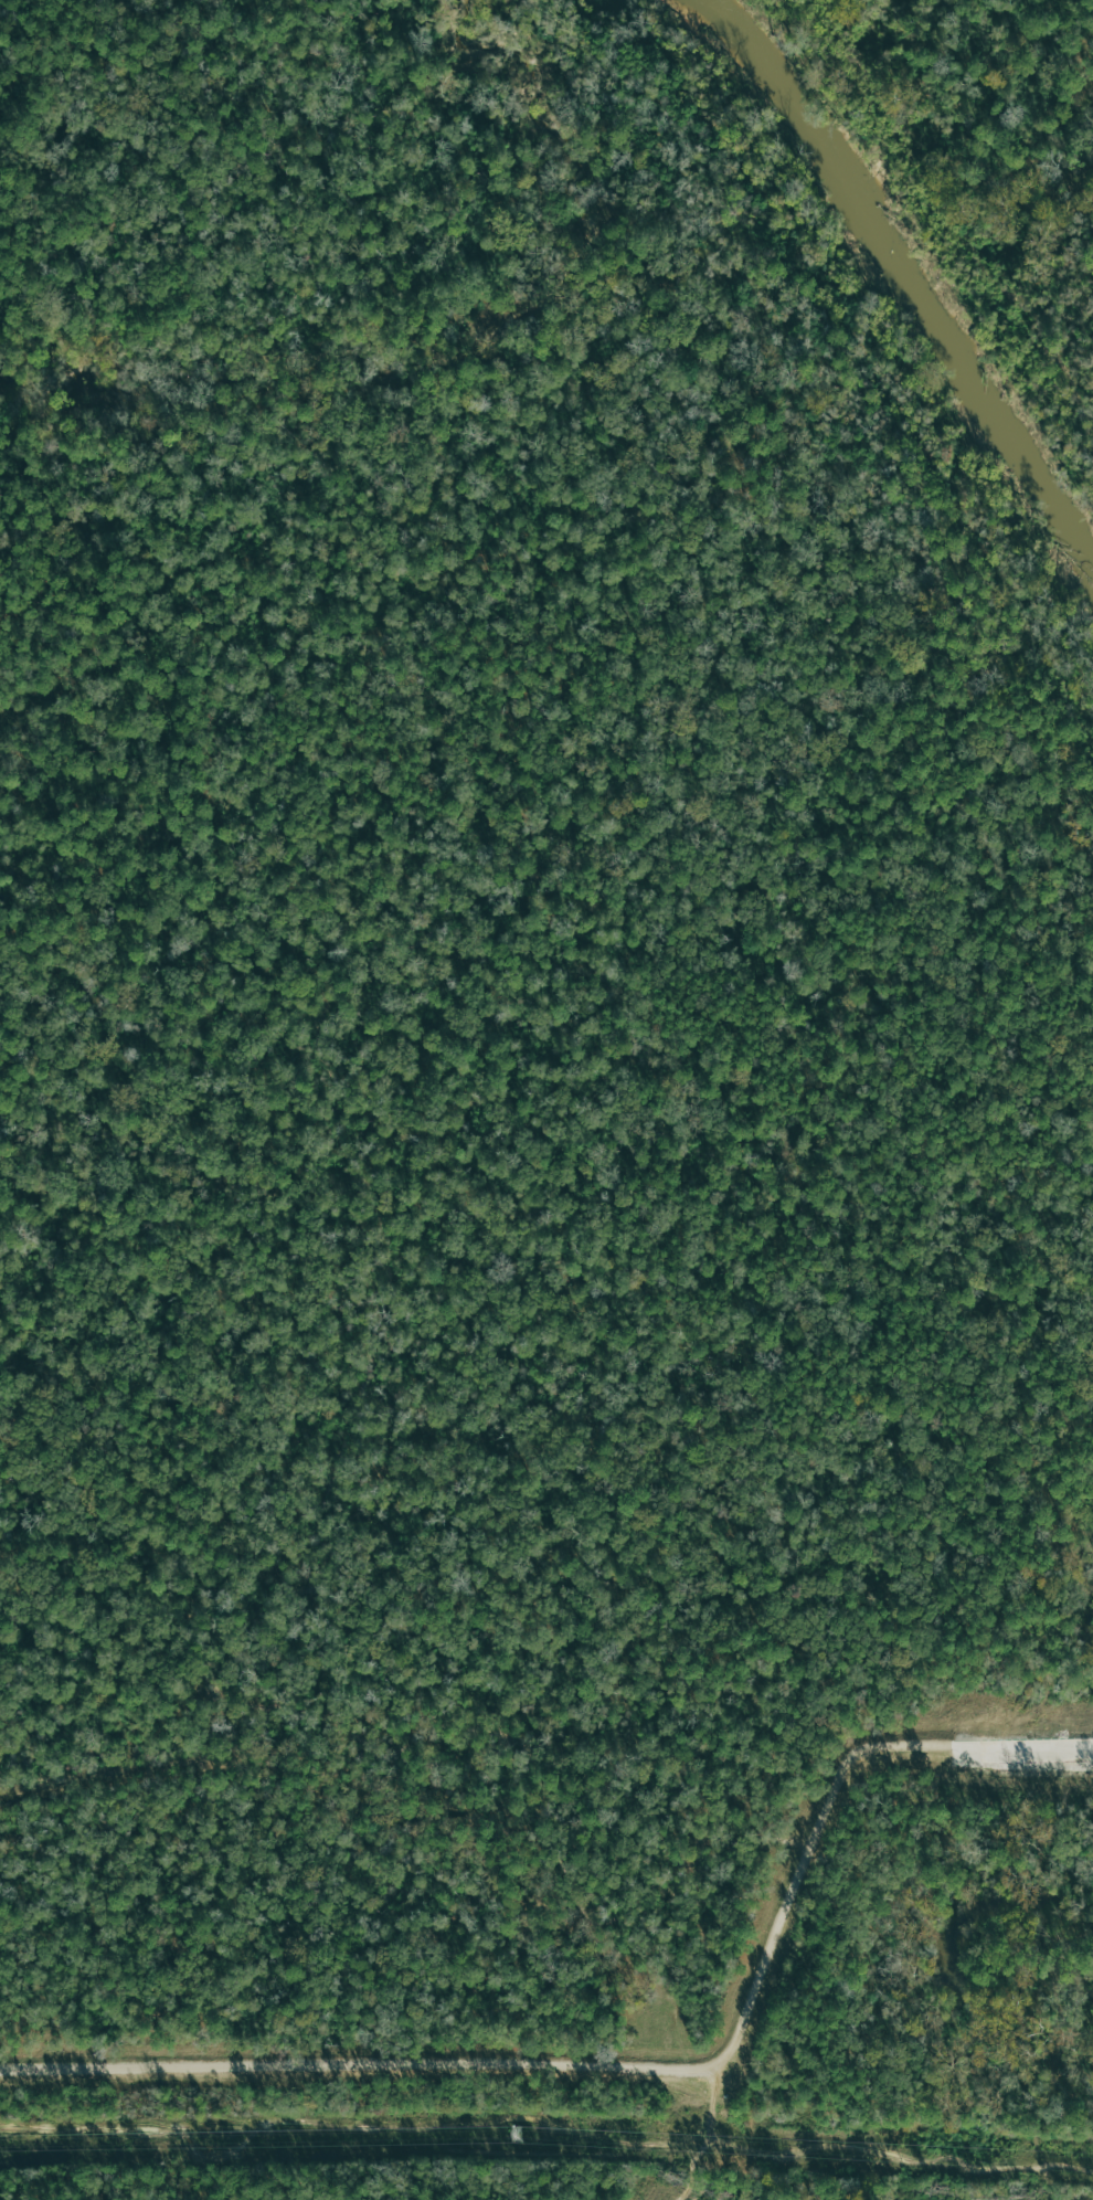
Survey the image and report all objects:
river: (912, 295)
road: (1026, 1753)
road: (582, 2066)
power tower: (519, 2134)

